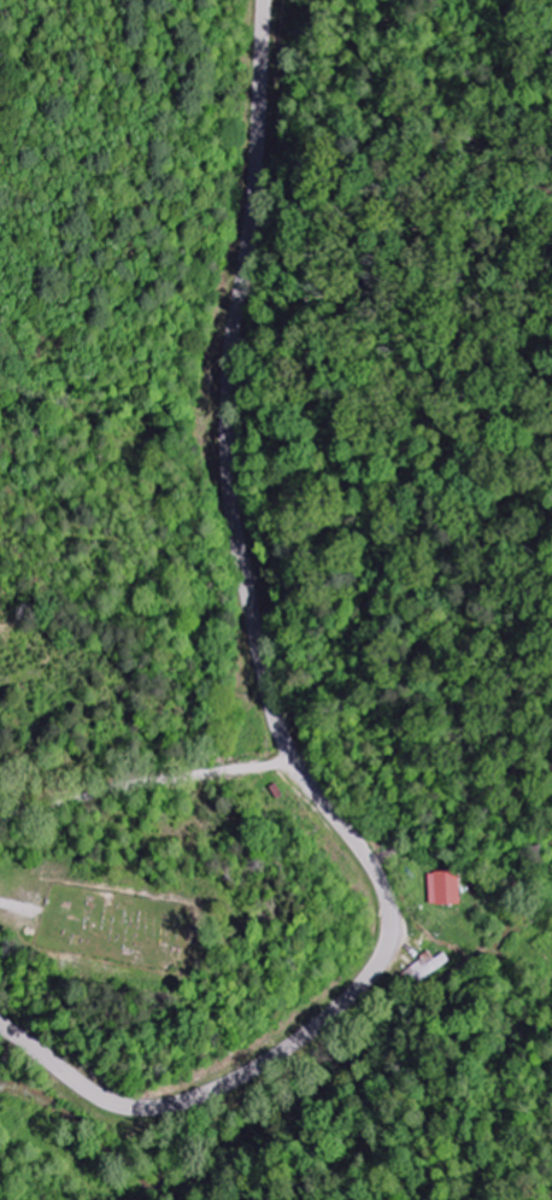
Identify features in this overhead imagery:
road: (276, 719)
road: (288, 763)
road: (464, 871)
park: (114, 925)

